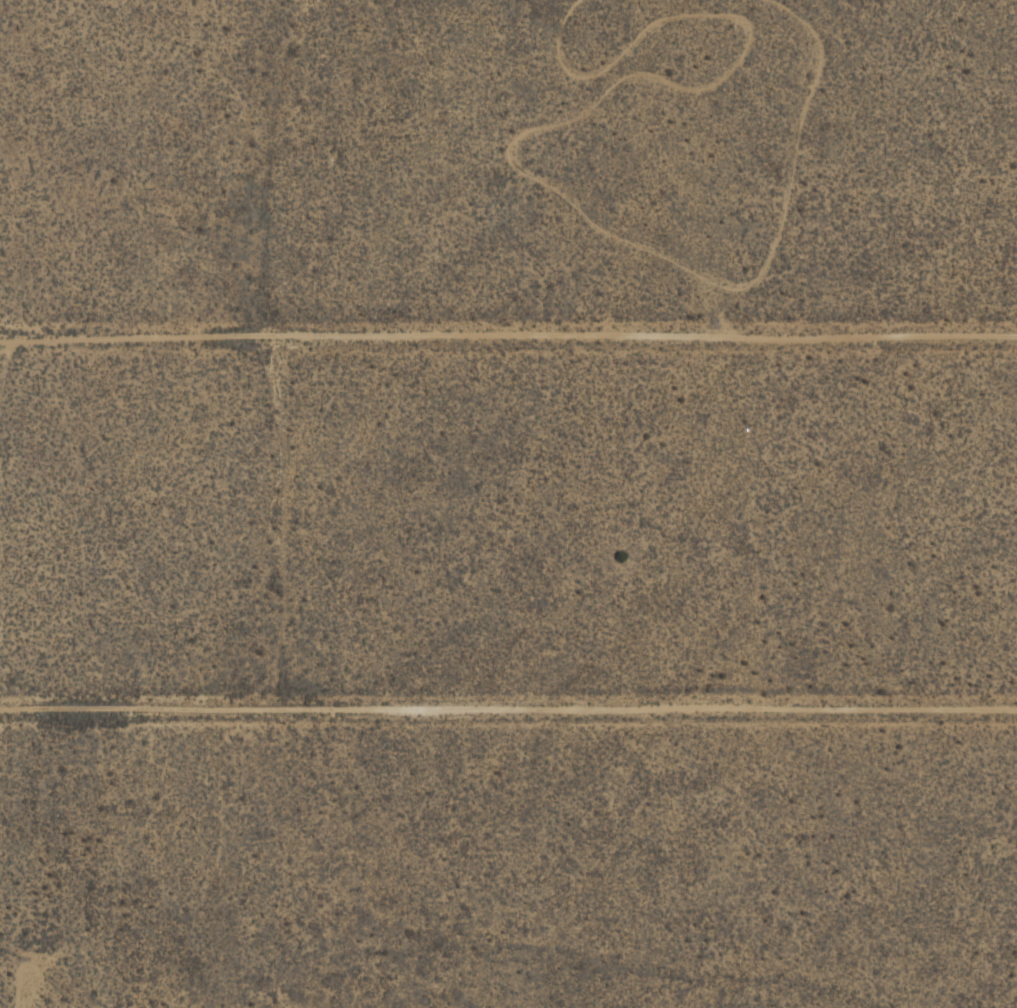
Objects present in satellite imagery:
road: (508, 334)
road: (508, 709)

